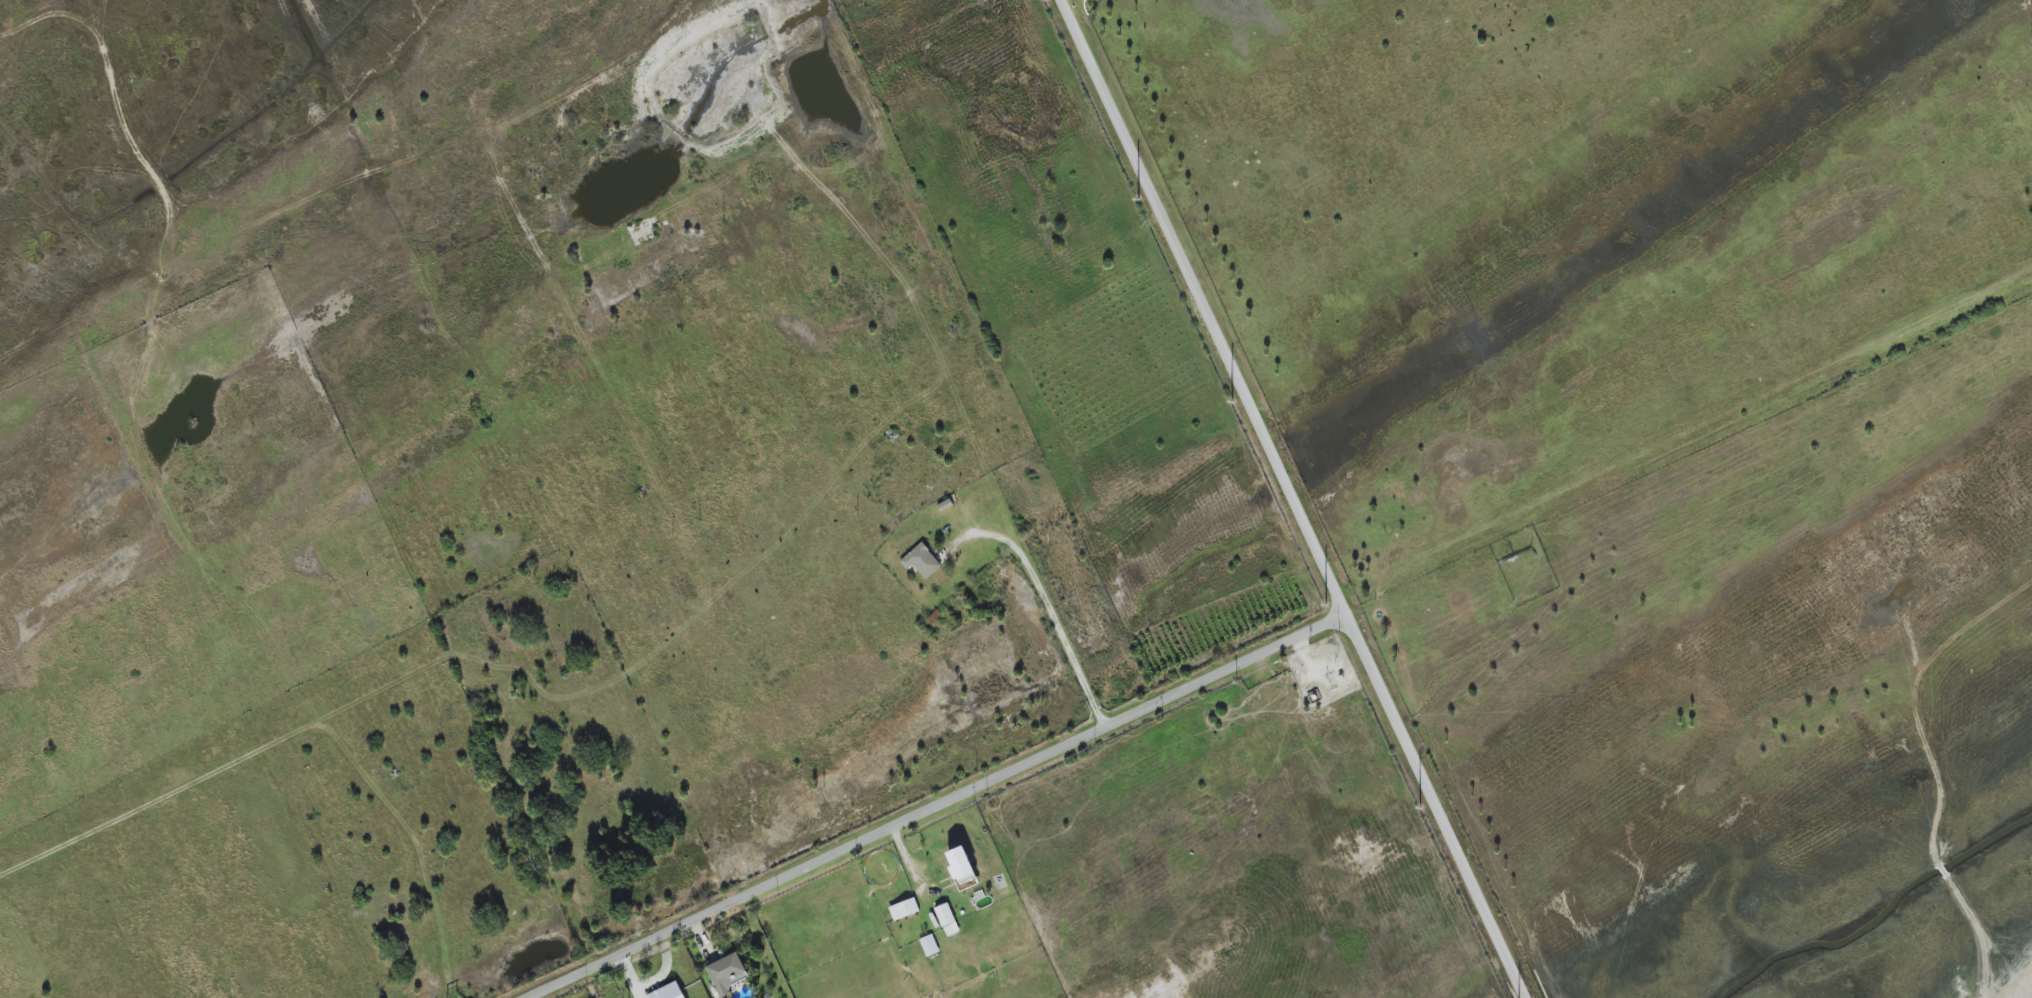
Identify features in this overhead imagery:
road: (1204, 307)
building: (921, 561)
road: (1049, 601)
road: (937, 805)
road: (1436, 806)
building: (962, 869)
building: (904, 909)
building: (947, 920)
building: (929, 945)
building: (727, 974)
building: (668, 992)

